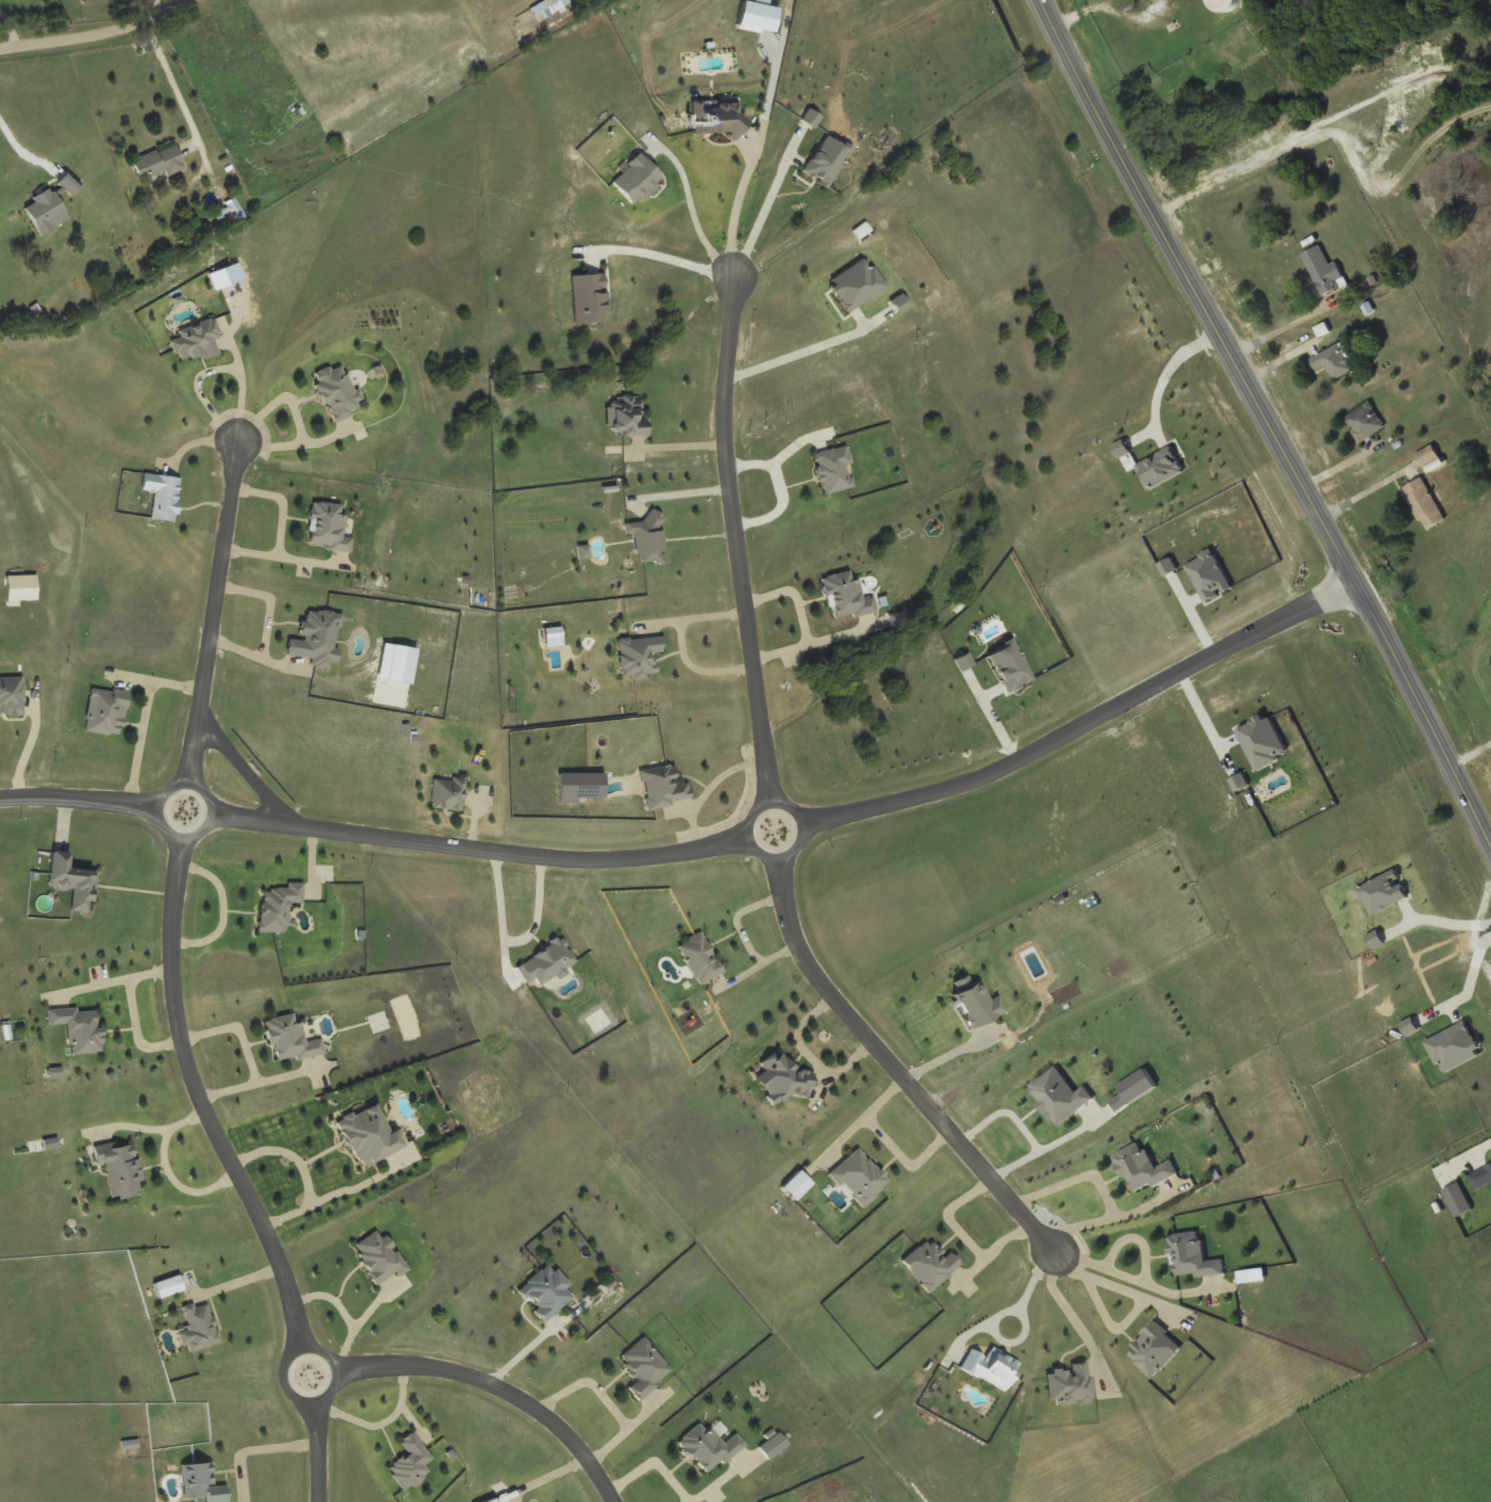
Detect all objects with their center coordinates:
building: (1303, 1)
building: (1225, 6)
building: (538, 9)
road: (91, 43)
building: (158, 163)
building: (219, 194)
road: (690, 210)
road: (747, 210)
building: (234, 211)
road: (661, 257)
building: (1322, 271)
building: (1334, 359)
building: (625, 415)
building: (1364, 421)
road: (1267, 427)
building: (1427, 456)
building: (161, 495)
building: (1423, 503)
road: (737, 543)
road: (214, 611)
road: (696, 618)
road: (698, 667)
road: (1086, 725)
road: (244, 769)
building: (447, 793)
road: (207, 796)
road: (78, 801)
road: (807, 824)
road: (483, 849)
building: (72, 882)
building: (78, 1029)
road: (894, 1072)
road: (204, 1100)
road: (1472, 1167)
building: (120, 1170)
road: (176, 1174)
road: (313, 1178)
building: (545, 1292)
road: (1059, 1303)
building: (198, 1329)
road: (324, 1353)
road: (501, 1386)
road: (261, 1452)
road: (319, 1452)
building: (201, 1483)

